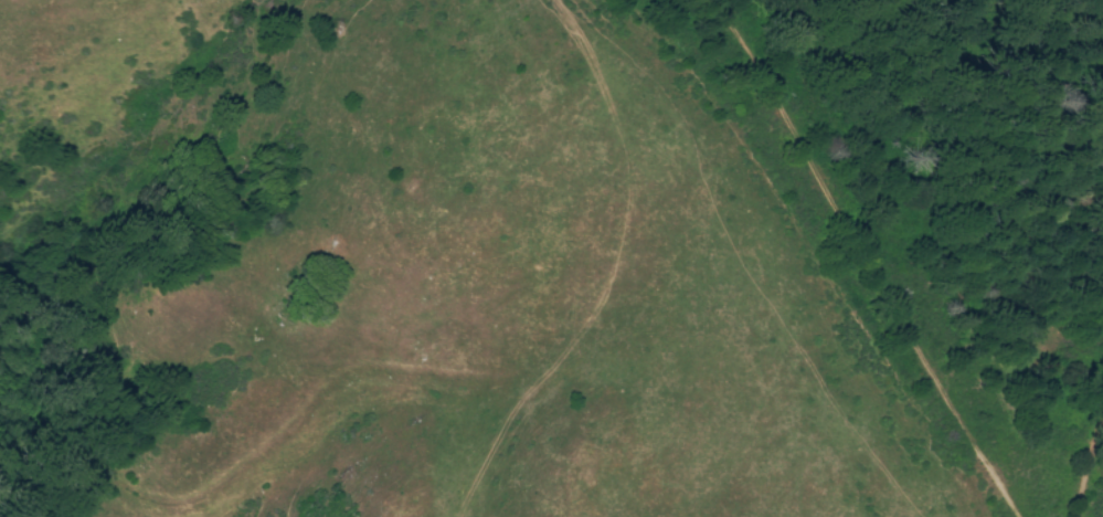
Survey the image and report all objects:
road: (868, 255)
road: (1086, 477)

